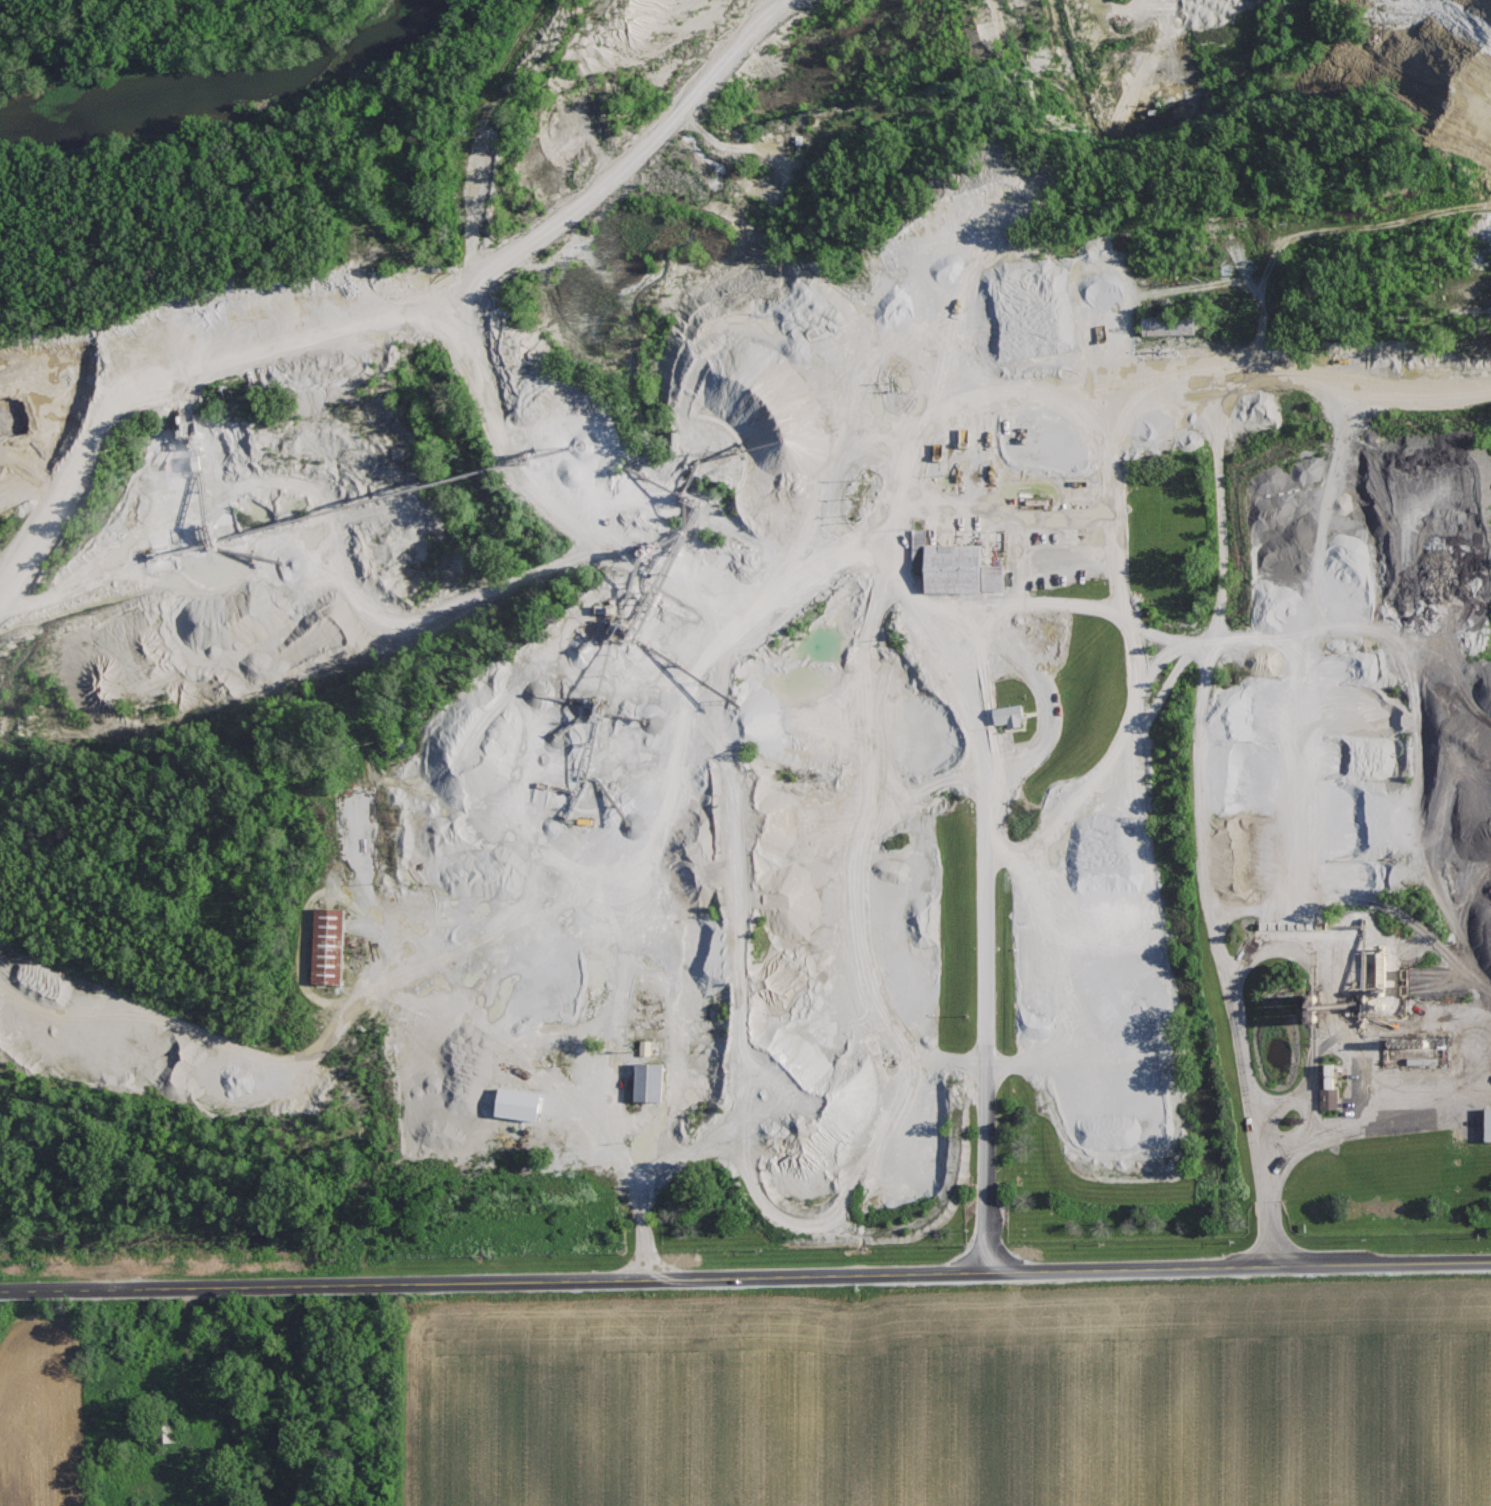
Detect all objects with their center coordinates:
river: (231, 104)
road: (486, 140)
road: (1322, 230)
road: (441, 302)
road: (1053, 371)
building: (1280, 477)
road: (61, 484)
road: (324, 518)
building: (959, 569)
road: (1129, 596)
road: (1406, 603)
road: (1244, 645)
quarry: (754, 651)
road: (1456, 677)
building: (1014, 718)
road: (712, 731)
road: (1318, 763)
road: (1427, 805)
road: (1197, 812)
road: (850, 859)
road: (986, 877)
road: (1477, 914)
road: (1317, 932)
building: (333, 947)
road: (1266, 951)
road: (392, 978)
building: (650, 1048)
building: (656, 1082)
building: (1334, 1087)
building: (525, 1104)
road: (1364, 1122)
road: (745, 1277)

